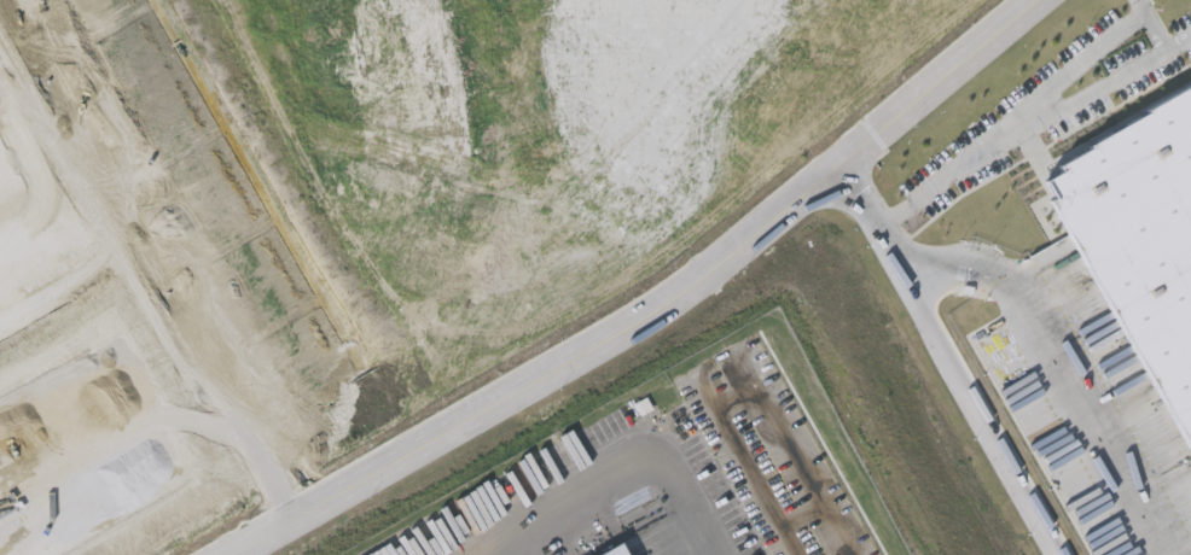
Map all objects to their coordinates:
road: (1150, 27)
road: (1030, 128)
road: (673, 183)
road: (350, 209)
road: (667, 212)
building: (1137, 227)
road: (153, 257)
road: (72, 285)
road: (653, 308)
road: (1024, 321)
road: (743, 386)
road: (992, 411)
road: (618, 474)
road: (800, 515)

